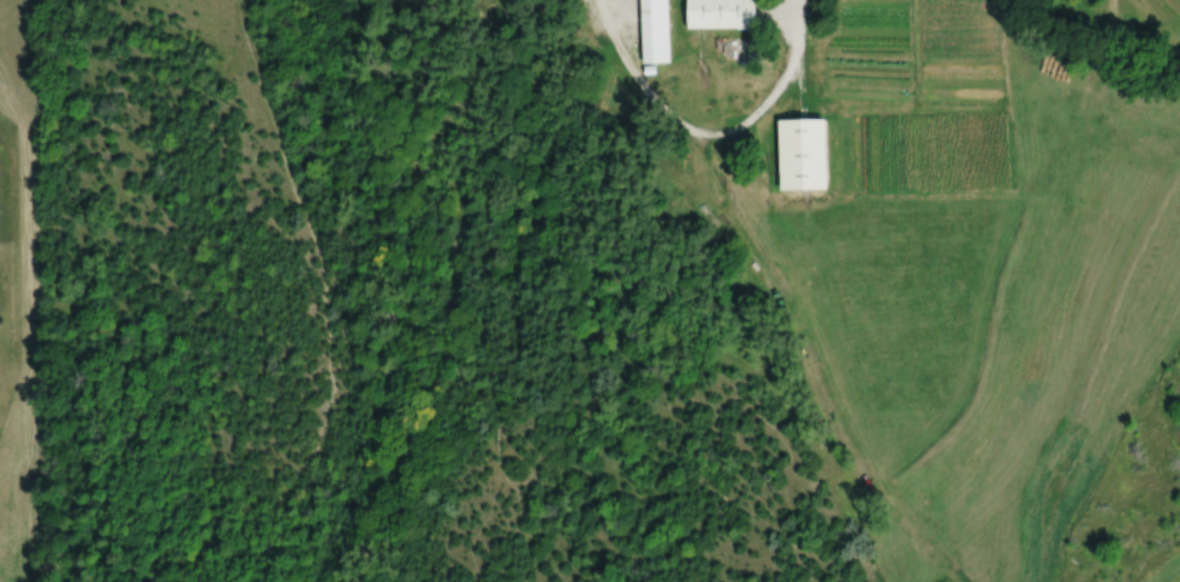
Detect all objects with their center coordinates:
building: (718, 13)
building: (652, 30)
road: (708, 132)

